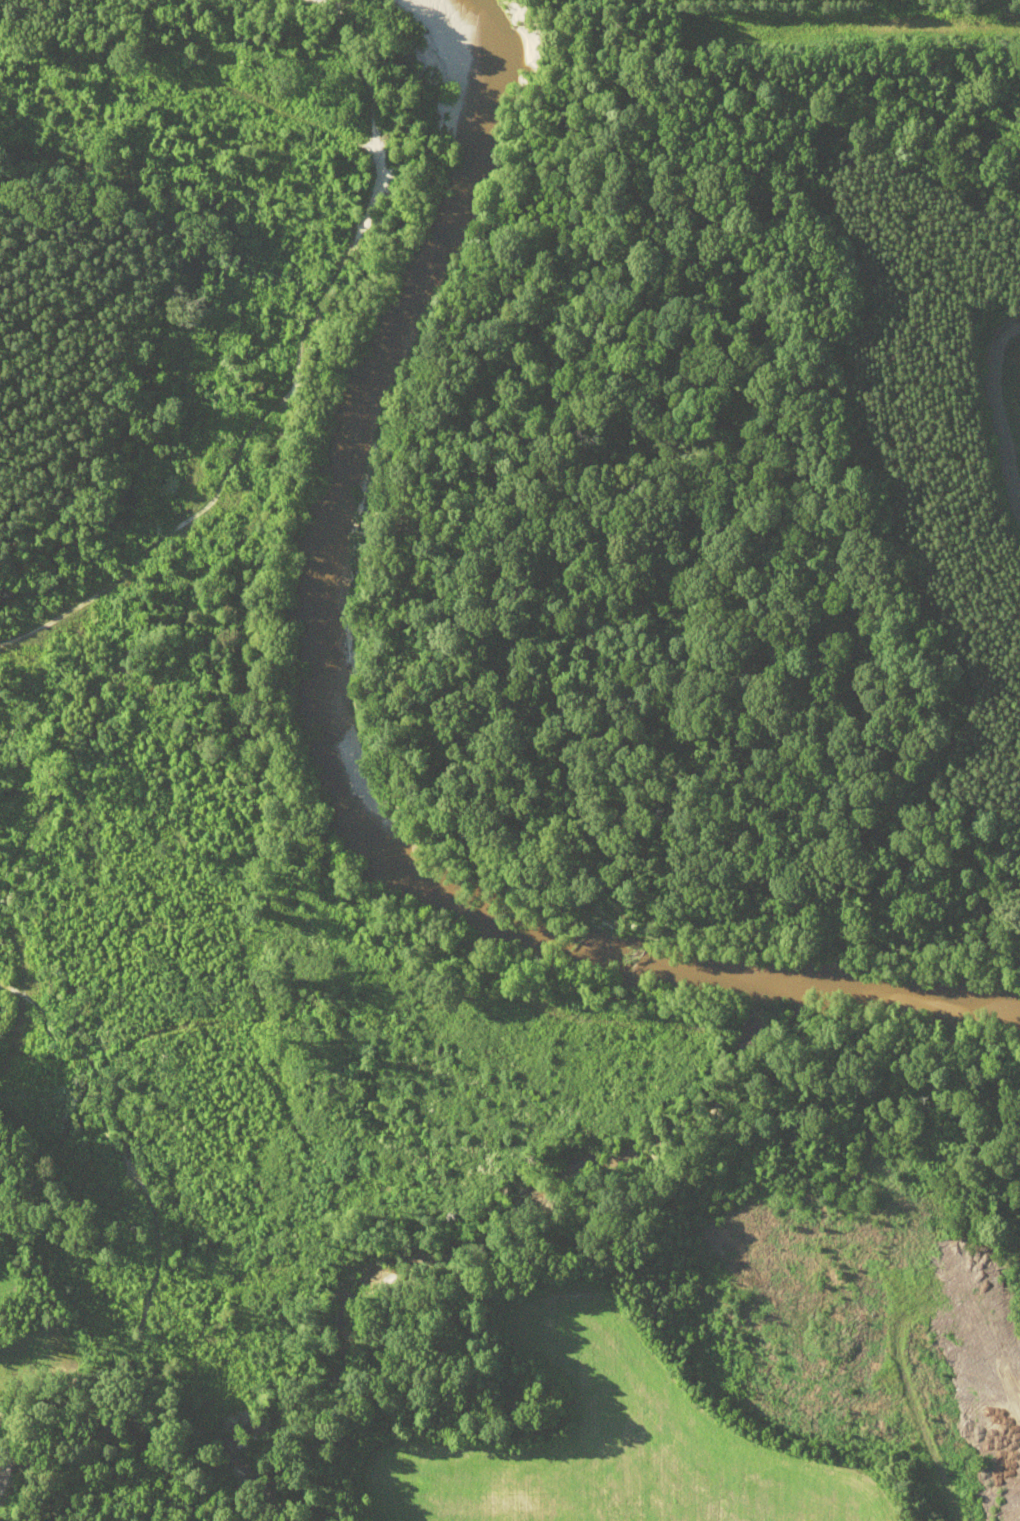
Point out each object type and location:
road: (922, 1431)
road: (4, 1460)
road: (2, 1479)

